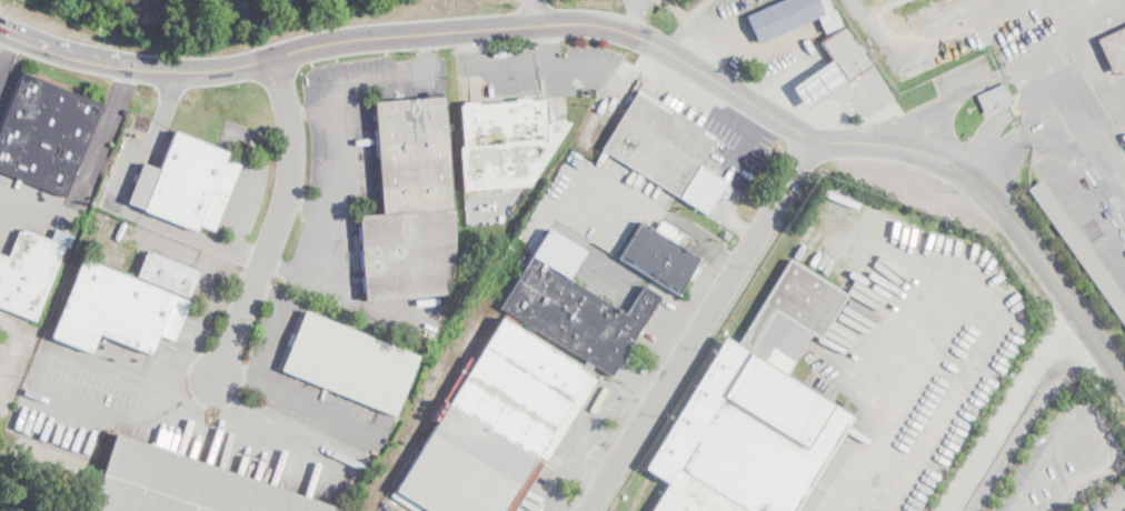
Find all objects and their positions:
parking lot: (638, 2)
road: (529, 12)
parking lot: (708, 13)
road: (1086, 13)
road: (706, 14)
road: (631, 17)
park: (213, 18)
parking lot: (1021, 29)
road: (624, 30)
road: (1019, 36)
road: (740, 39)
road: (928, 42)
road: (551, 44)
road: (674, 44)
building: (1114, 49)
building: (844, 52)
road: (8, 53)
road: (698, 59)
road: (1096, 62)
road: (787, 64)
road: (518, 67)
parking lot: (549, 68)
parking lot: (794, 69)
road: (829, 76)
parking lot: (6, 83)
road: (1067, 91)
road: (756, 92)
road: (802, 92)
road: (1118, 96)
building: (994, 98)
road: (947, 99)
road: (878, 109)
road: (311, 111)
road: (824, 114)
road: (1099, 127)
road: (989, 128)
building: (46, 133)
road: (336, 140)
building: (506, 142)
building: (657, 142)
parking lot: (735, 142)
road: (1009, 149)
parking lot: (346, 156)
road: (89, 171)
road: (257, 173)
road: (729, 178)
building: (187, 184)
road: (1076, 187)
building: (701, 188)
road: (625, 191)
parking lot: (598, 201)
building: (410, 203)
road: (311, 204)
road: (122, 207)
road: (279, 221)
road: (6, 232)
building: (1079, 247)
building: (661, 253)
building: (30, 271)
building: (168, 273)
building: (117, 309)
road: (271, 323)
road: (701, 323)
road: (16, 345)
road: (37, 361)
building: (350, 362)
building: (521, 388)
parking lot: (103, 393)
road: (288, 399)
road: (1013, 407)
railway: (418, 408)
railway: (430, 410)
building: (756, 412)
road: (1087, 412)
road: (1025, 418)
parking lot: (1064, 459)
building: (183, 484)
railway: (640, 492)
railway: (653, 495)
parking lot: (1109, 501)
road: (1124, 510)

